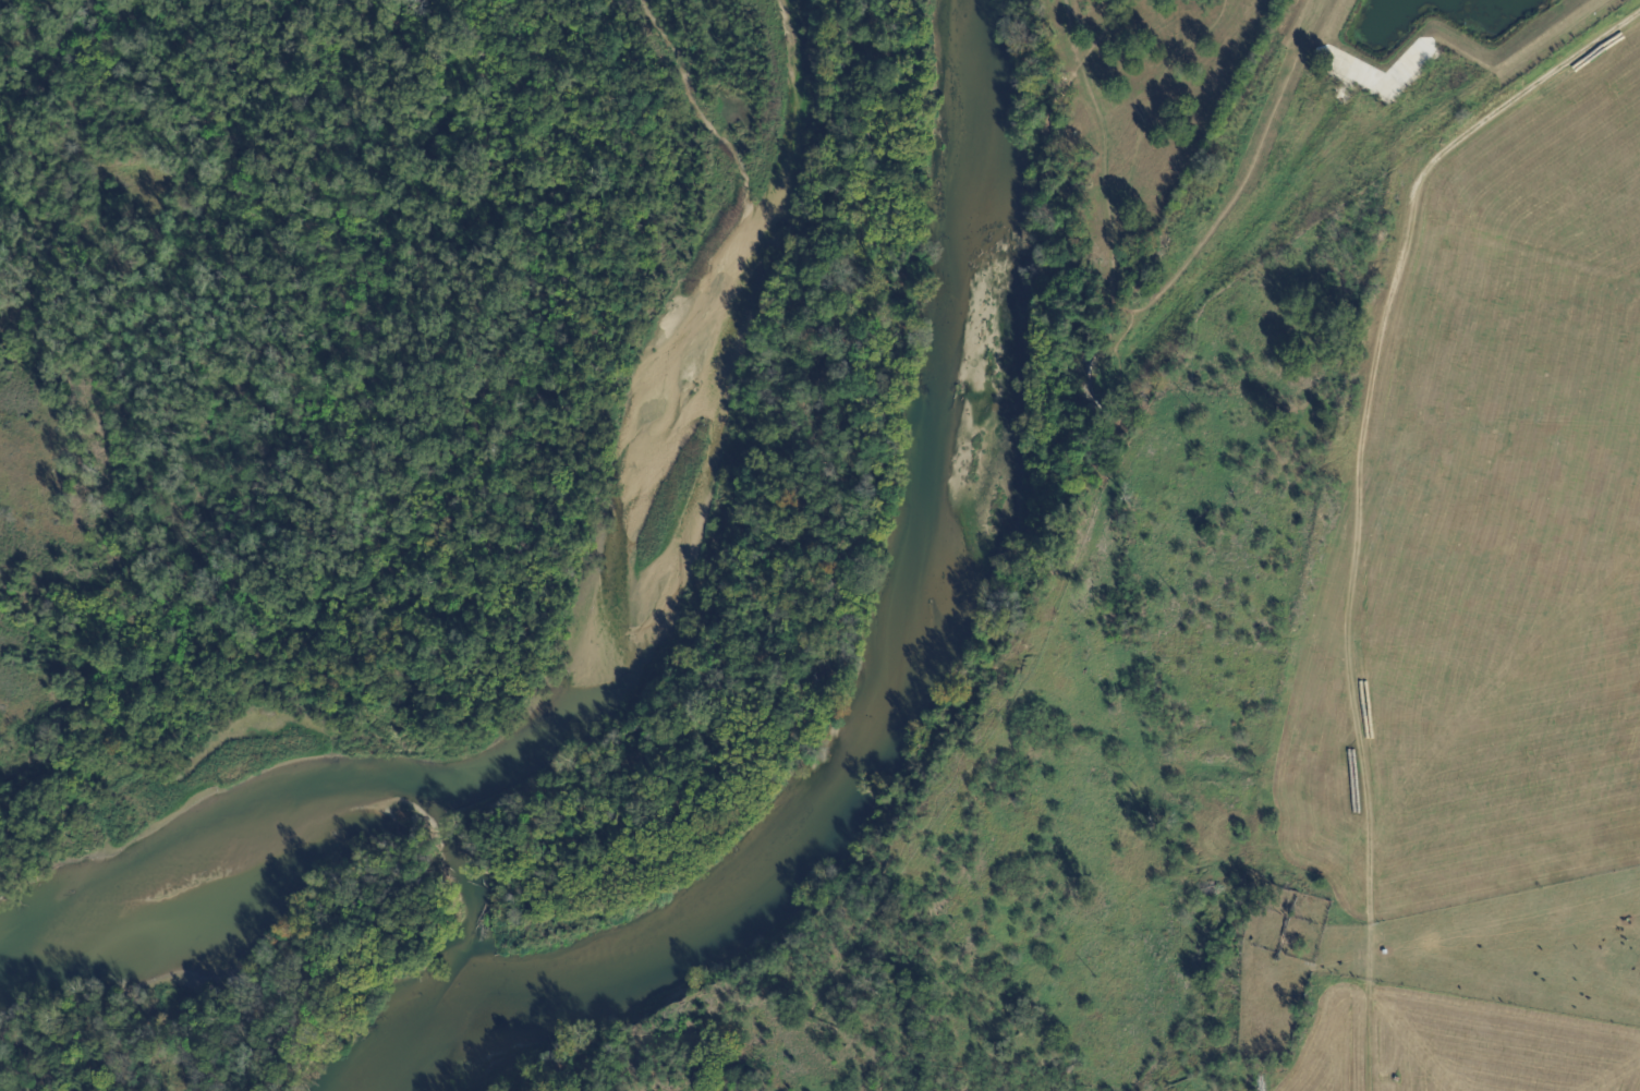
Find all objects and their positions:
road: (1356, 494)
river: (891, 689)
building: (1312, 895)

